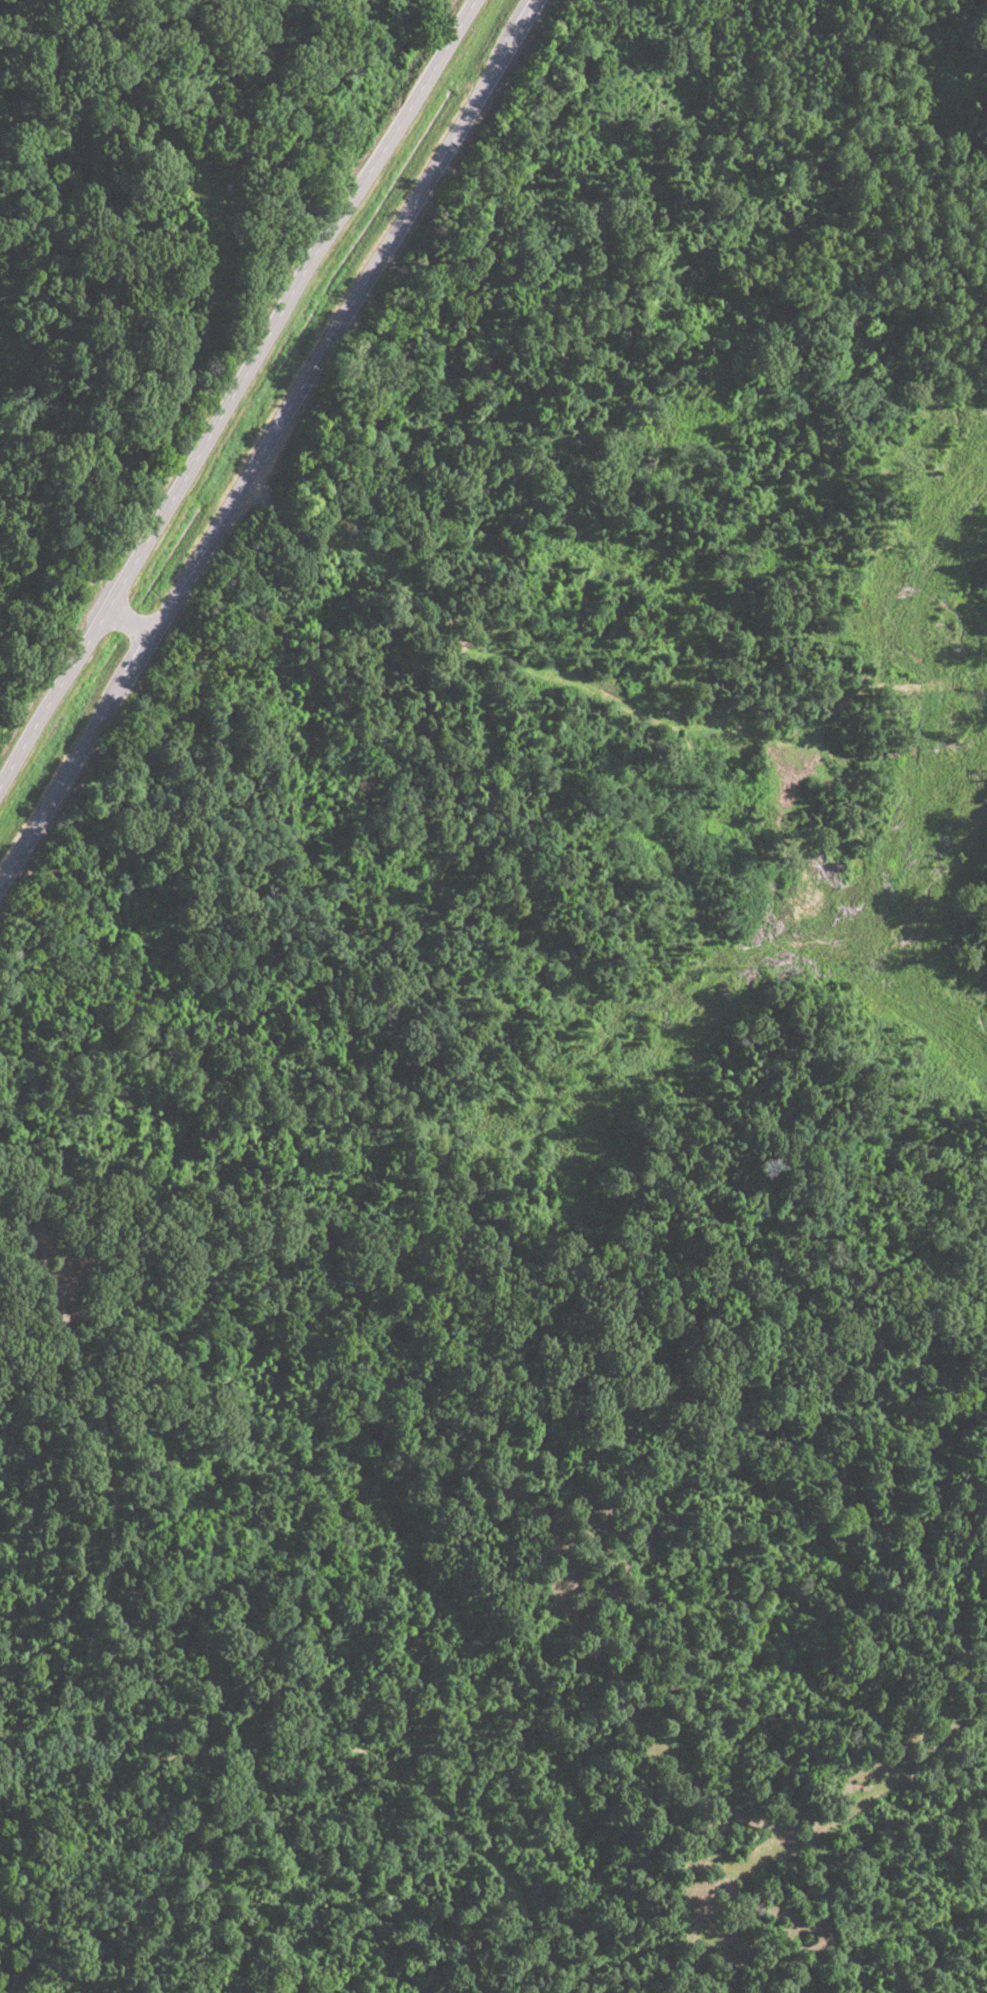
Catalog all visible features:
road: (237, 388)
road: (268, 439)
road: (128, 621)

